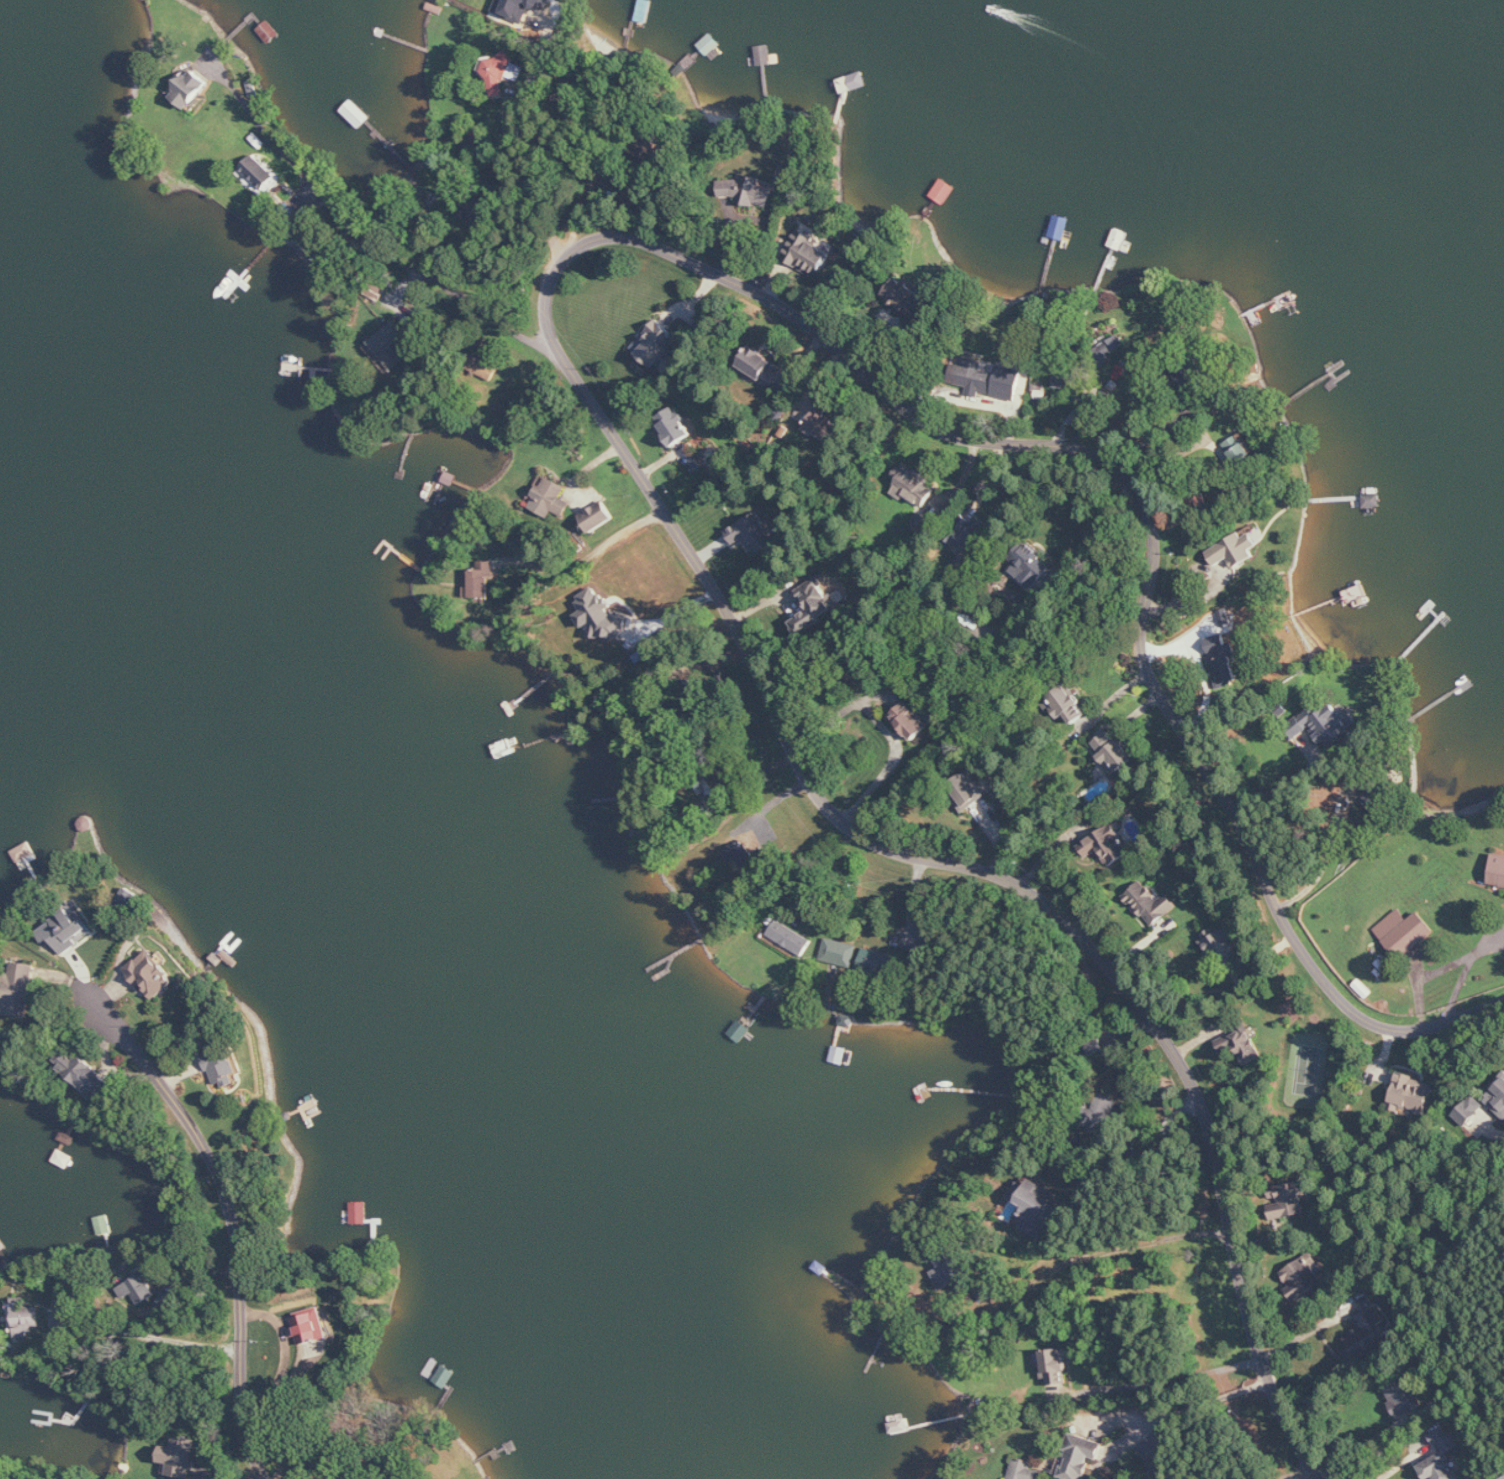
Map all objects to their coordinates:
building: (517, 7)
building: (500, 73)
building: (190, 88)
road: (510, 155)
building: (260, 175)
building: (747, 190)
building: (480, 213)
road: (379, 244)
building: (808, 255)
building: (907, 299)
road: (543, 316)
building: (656, 343)
building: (390, 344)
building: (1105, 351)
building: (762, 366)
building: (984, 385)
building: (674, 426)
building: (826, 427)
building: (1240, 449)
building: (912, 485)
building: (550, 498)
building: (598, 516)
road: (1098, 522)
building: (753, 533)
building: (973, 536)
building: (1234, 550)
road: (586, 560)
building: (1031, 567)
building: (481, 580)
building: (814, 605)
building: (603, 616)
building: (1222, 659)
building: (1064, 701)
building: (910, 720)
building: (1323, 724)
road: (884, 727)
road: (746, 744)
building: (1113, 751)
road: (765, 782)
building: (968, 788)
road: (1281, 790)
building: (87, 824)
road: (806, 842)
building: (1107, 844)
building: (743, 849)
road: (1326, 859)
road: (811, 865)
building: (1497, 870)
building: (1150, 903)
building: (64, 931)
building: (1404, 932)
building: (790, 937)
building: (1224, 948)
building: (839, 952)
road: (1452, 962)
building: (879, 963)
building: (151, 975)
building: (19, 990)
building: (1241, 1045)
building: (223, 1067)
building: (85, 1074)
building: (1412, 1095)
building: (1496, 1096)
building: (1101, 1112)
road: (1155, 1144)
building: (1286, 1200)
building: (1034, 1208)
building: (359, 1213)
road: (238, 1216)
road: (1089, 1253)
building: (949, 1272)
building: (1302, 1277)
building: (137, 1287)
building: (23, 1318)
building: (311, 1326)
road: (1303, 1334)
building: (1366, 1336)
building: (1053, 1367)
road: (1162, 1378)
building: (1403, 1396)
road: (1199, 1403)
road: (1361, 1446)
building: (1080, 1456)
building: (183, 1458)
building: (1440, 1467)
road: (1397, 1468)
building: (1024, 1470)
building: (1502, 1478)

